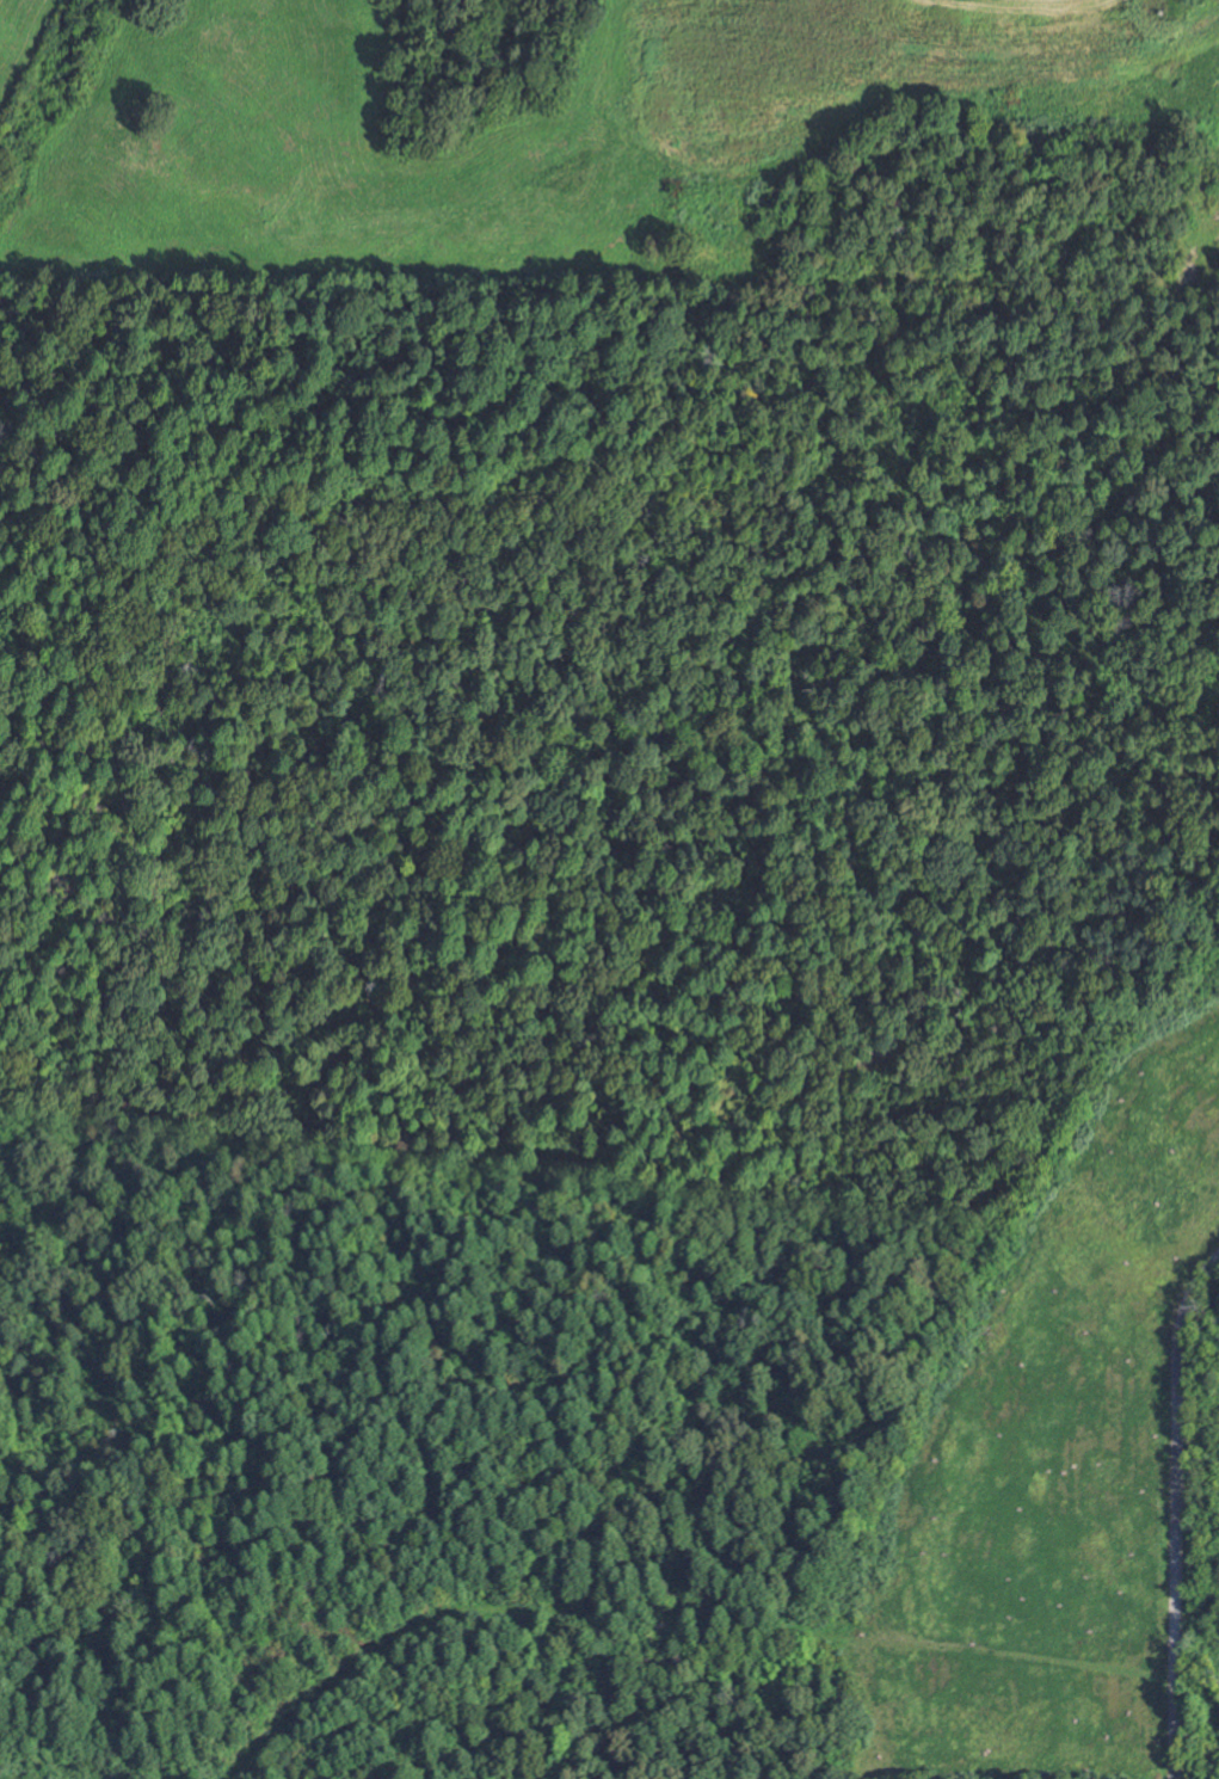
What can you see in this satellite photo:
road: (1174, 1508)

